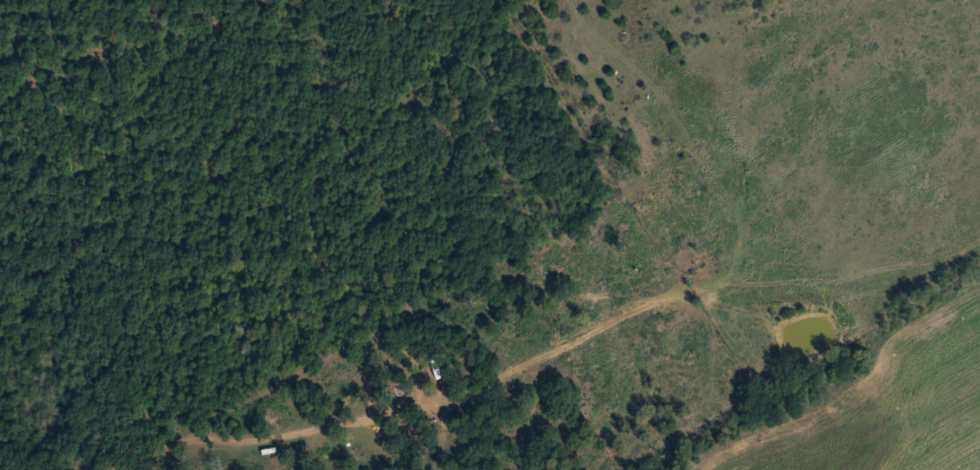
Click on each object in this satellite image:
road: (934, 433)

